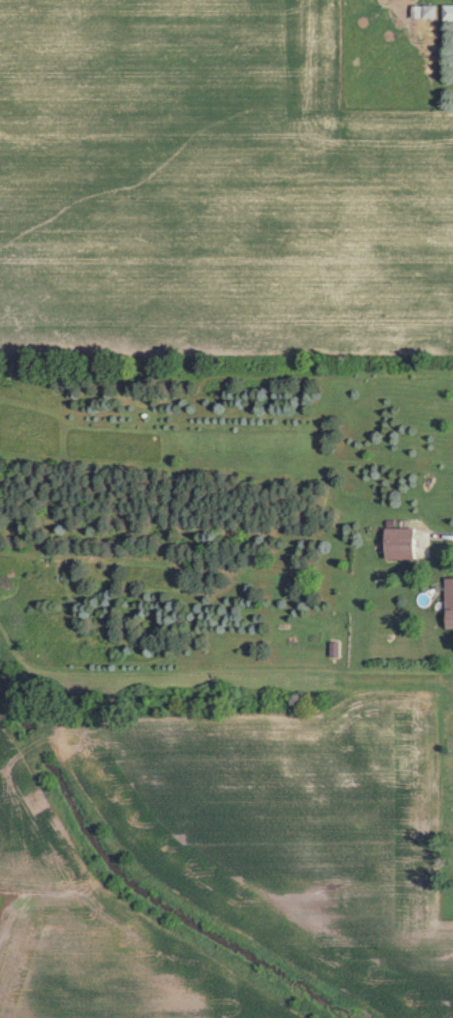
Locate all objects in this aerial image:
building: (421, 11)
building: (446, 12)
building: (397, 543)
building: (447, 603)

